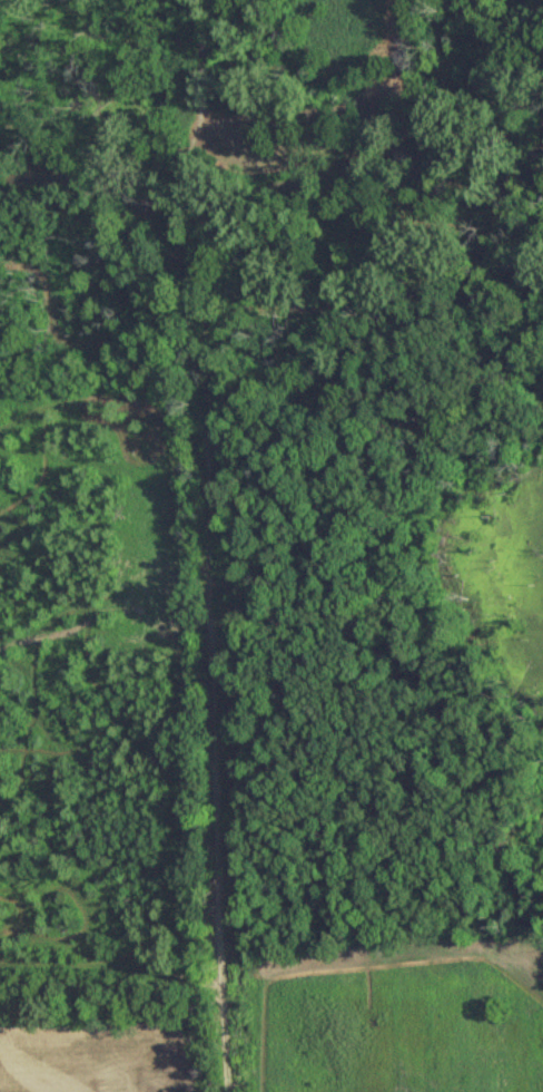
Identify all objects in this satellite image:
river: (270, 199)

